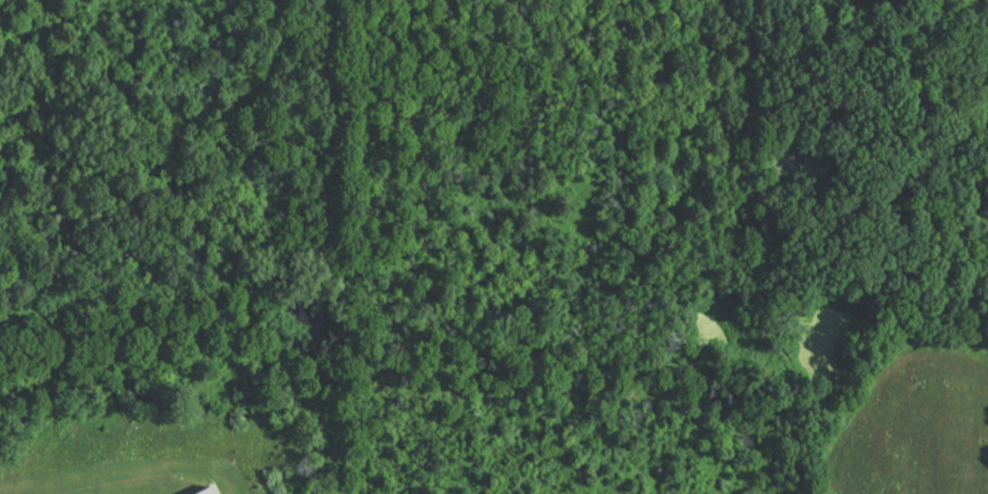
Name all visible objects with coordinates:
building: (200, 491)

